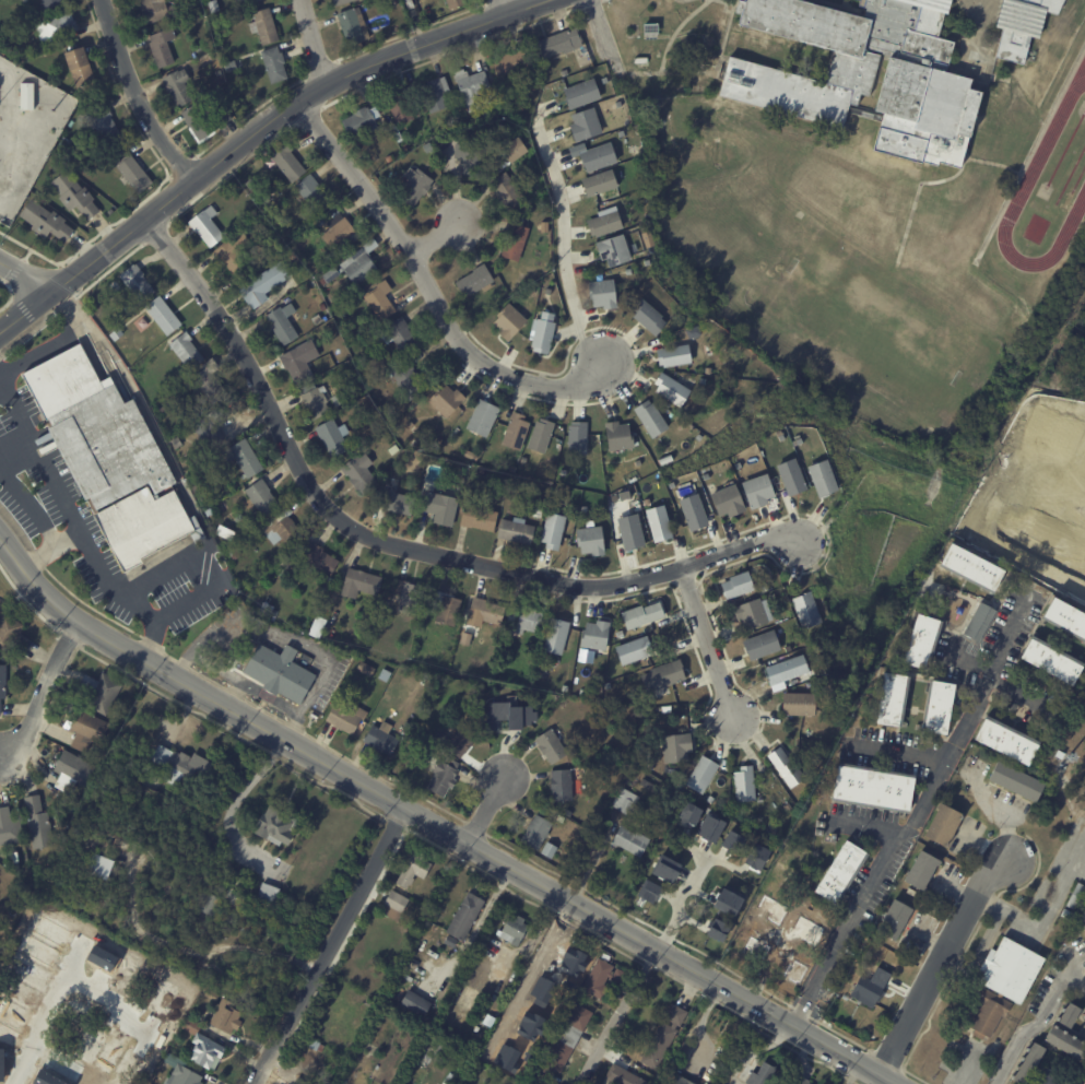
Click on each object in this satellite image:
building: (253, 1)
building: (346, 2)
building: (54, 4)
building: (412, 4)
building: (459, 4)
building: (215, 7)
road: (504, 8)
building: (160, 11)
building: (1018, 25)
building: (267, 27)
building: (355, 27)
building: (59, 28)
building: (649, 28)
road: (599, 34)
road: (311, 42)
building: (557, 43)
building: (165, 47)
building: (212, 61)
building: (512, 64)
building: (276, 66)
building: (232, 68)
building: (79, 71)
building: (863, 72)
building: (470, 86)
building: (180, 87)
building: (581, 92)
road: (134, 94)
building: (433, 94)
building: (204, 95)
building: (28, 97)
building: (398, 108)
building: (486, 114)
building: (359, 120)
building: (209, 121)
building: (585, 122)
building: (107, 127)
power substation: (25, 131)
road: (256, 132)
building: (405, 145)
building: (66, 149)
building: (429, 150)
building: (512, 150)
building: (593, 155)
building: (468, 157)
building: (284, 163)
building: (137, 175)
building: (599, 180)
building: (413, 188)
track: (1049, 188)
building: (505, 191)
building: (271, 193)
building: (309, 193)
building: (76, 196)
building: (318, 221)
building: (603, 222)
building: (48, 223)
building: (205, 226)
building: (338, 231)
road: (437, 234)
building: (511, 241)
road: (562, 246)
building: (614, 248)
building: (231, 252)
building: (357, 262)
building: (628, 271)
road: (25, 275)
building: (329, 275)
building: (472, 280)
building: (135, 283)
building: (262, 283)
road: (427, 290)
building: (530, 292)
building: (547, 292)
building: (600, 293)
building: (378, 299)
building: (321, 306)
building: (128, 308)
building: (161, 316)
building: (649, 316)
building: (323, 318)
building: (316, 321)
building: (507, 322)
building: (279, 326)
building: (708, 331)
building: (542, 332)
building: (115, 334)
building: (701, 334)
building: (398, 335)
road: (57, 342)
building: (717, 342)
building: (185, 351)
building: (672, 355)
building: (293, 365)
building: (405, 379)
building: (208, 381)
building: (701, 381)
road: (0, 384)
road: (5, 390)
building: (669, 390)
building: (343, 398)
building: (315, 400)
building: (444, 401)
building: (480, 419)
building: (649, 419)
building: (410, 424)
building: (211, 427)
building: (512, 432)
building: (617, 435)
building: (538, 436)
building: (577, 436)
building: (329, 438)
building: (436, 438)
road: (13, 440)
building: (174, 443)
building: (392, 450)
building: (445, 450)
building: (473, 457)
building: (667, 457)
building: (110, 458)
building: (241, 458)
building: (522, 460)
building: (637, 462)
building: (497, 467)
road: (45, 471)
building: (358, 472)
building: (790, 475)
building: (706, 476)
building: (822, 476)
road: (1040, 478)
building: (512, 484)
building: (756, 488)
building: (194, 490)
building: (260, 496)
road: (25, 500)
building: (564, 500)
building: (647, 502)
building: (726, 502)
building: (399, 504)
building: (437, 508)
building: (583, 509)
building: (693, 510)
building: (476, 518)
building: (659, 521)
building: (280, 529)
building: (630, 530)
building: (551, 531)
building: (515, 532)
building: (221, 533)
building: (589, 540)
road: (46, 545)
road: (390, 551)
building: (317, 562)
road: (199, 568)
building: (971, 568)
building: (357, 584)
building: (735, 586)
building: (764, 588)
road: (128, 597)
building: (405, 597)
building: (771, 597)
building: (444, 608)
building: (266, 611)
building: (805, 611)
building: (483, 612)
building: (750, 614)
building: (640, 615)
building: (1065, 618)
building: (522, 622)
building: (977, 622)
building: (317, 627)
building: (620, 634)
building: (594, 636)
building: (554, 637)
building: (14, 638)
building: (463, 639)
building: (918, 640)
road: (705, 643)
building: (760, 645)
building: (816, 648)
building: (632, 651)
building: (1048, 660)
building: (365, 669)
building: (785, 671)
building: (279, 672)
building: (381, 675)
building: (661, 676)
road: (243, 682)
building: (3, 686)
building: (563, 688)
building: (480, 692)
building: (104, 693)
road: (43, 694)
road: (234, 695)
building: (654, 700)
building: (889, 700)
building: (797, 705)
building: (937, 707)
building: (520, 716)
building: (344, 717)
building: (504, 721)
building: (91, 731)
building: (378, 740)
building: (456, 741)
building: (1005, 741)
building: (549, 747)
building: (675, 749)
road: (898, 750)
building: (813, 761)
building: (185, 766)
building: (785, 768)
building: (74, 773)
building: (656, 773)
building: (699, 776)
building: (443, 778)
building: (1013, 783)
building: (743, 785)
building: (559, 786)
building: (647, 787)
building: (871, 788)
building: (709, 800)
building: (625, 803)
road: (487, 805)
building: (787, 808)
road: (229, 813)
building: (689, 813)
road: (911, 815)
building: (559, 818)
building: (42, 824)
road: (868, 824)
road: (433, 825)
building: (942, 826)
building: (282, 827)
building: (709, 827)
building: (11, 829)
building: (771, 832)
building: (535, 833)
building: (732, 841)
building: (628, 843)
building: (174, 844)
building: (954, 846)
building: (180, 849)
building: (547, 850)
building: (187, 856)
building: (755, 857)
building: (193, 862)
building: (780, 863)
building: (99, 865)
building: (665, 868)
building: (413, 869)
building: (839, 872)
building: (919, 873)
building: (205, 875)
building: (806, 883)
building: (648, 891)
building: (269, 893)
building: (237, 895)
building: (1074, 897)
building: (727, 902)
road: (676, 904)
building: (212, 905)
building: (393, 906)
building: (9, 914)
building: (762, 914)
building: (1065, 916)
building: (463, 917)
road: (1046, 918)
building: (1082, 918)
building: (893, 920)
building: (715, 928)
building: (514, 930)
building: (248, 931)
building: (1055, 933)
building: (448, 941)
road: (329, 945)
building: (417, 945)
road: (936, 965)
building: (376, 971)
building: (498, 973)
building: (551, 974)
building: (601, 978)
building: (1002, 981)
building: (870, 988)
road: (116, 995)
building: (213, 995)
road: (625, 1003)
building: (414, 1004)
road: (49, 1012)
building: (1069, 1016)
building: (229, 1017)
road: (1028, 1029)
building: (661, 1036)
building: (564, 1040)
building: (528, 1045)
building: (208, 1046)
building: (315, 1046)
building: (1063, 1046)
road: (753, 1050)
building: (337, 1058)
road: (797, 1061)
building: (1027, 1064)
building: (760, 1075)
building: (187, 1076)
building: (620, 1076)
building: (675, 1079)
building: (1051, 1079)
building: (290, 1080)
building: (799, 1080)

